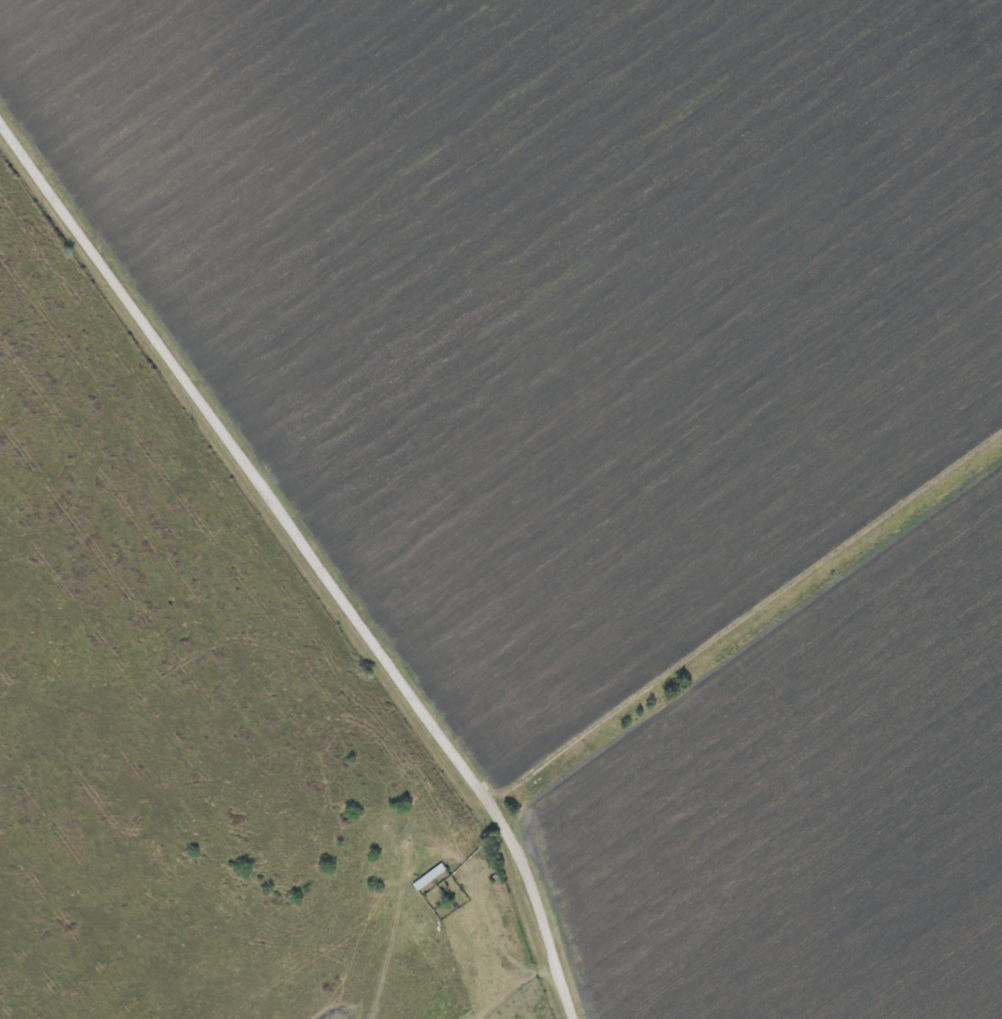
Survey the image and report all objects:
road: (163, 346)
road: (745, 617)
road: (477, 784)

